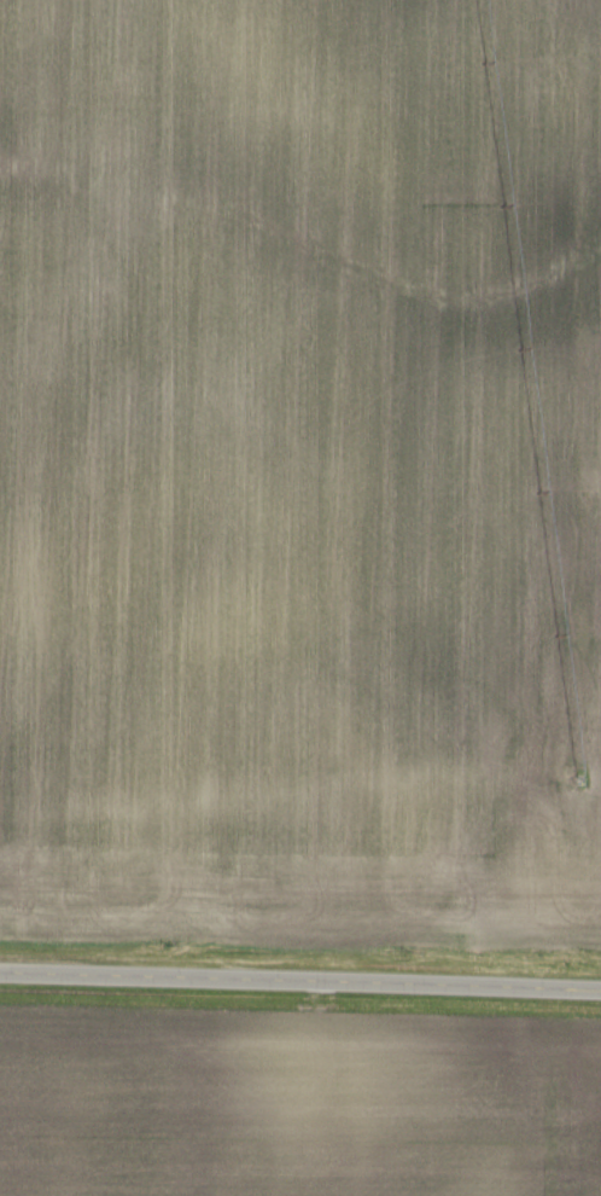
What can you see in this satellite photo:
road: (300, 980)

